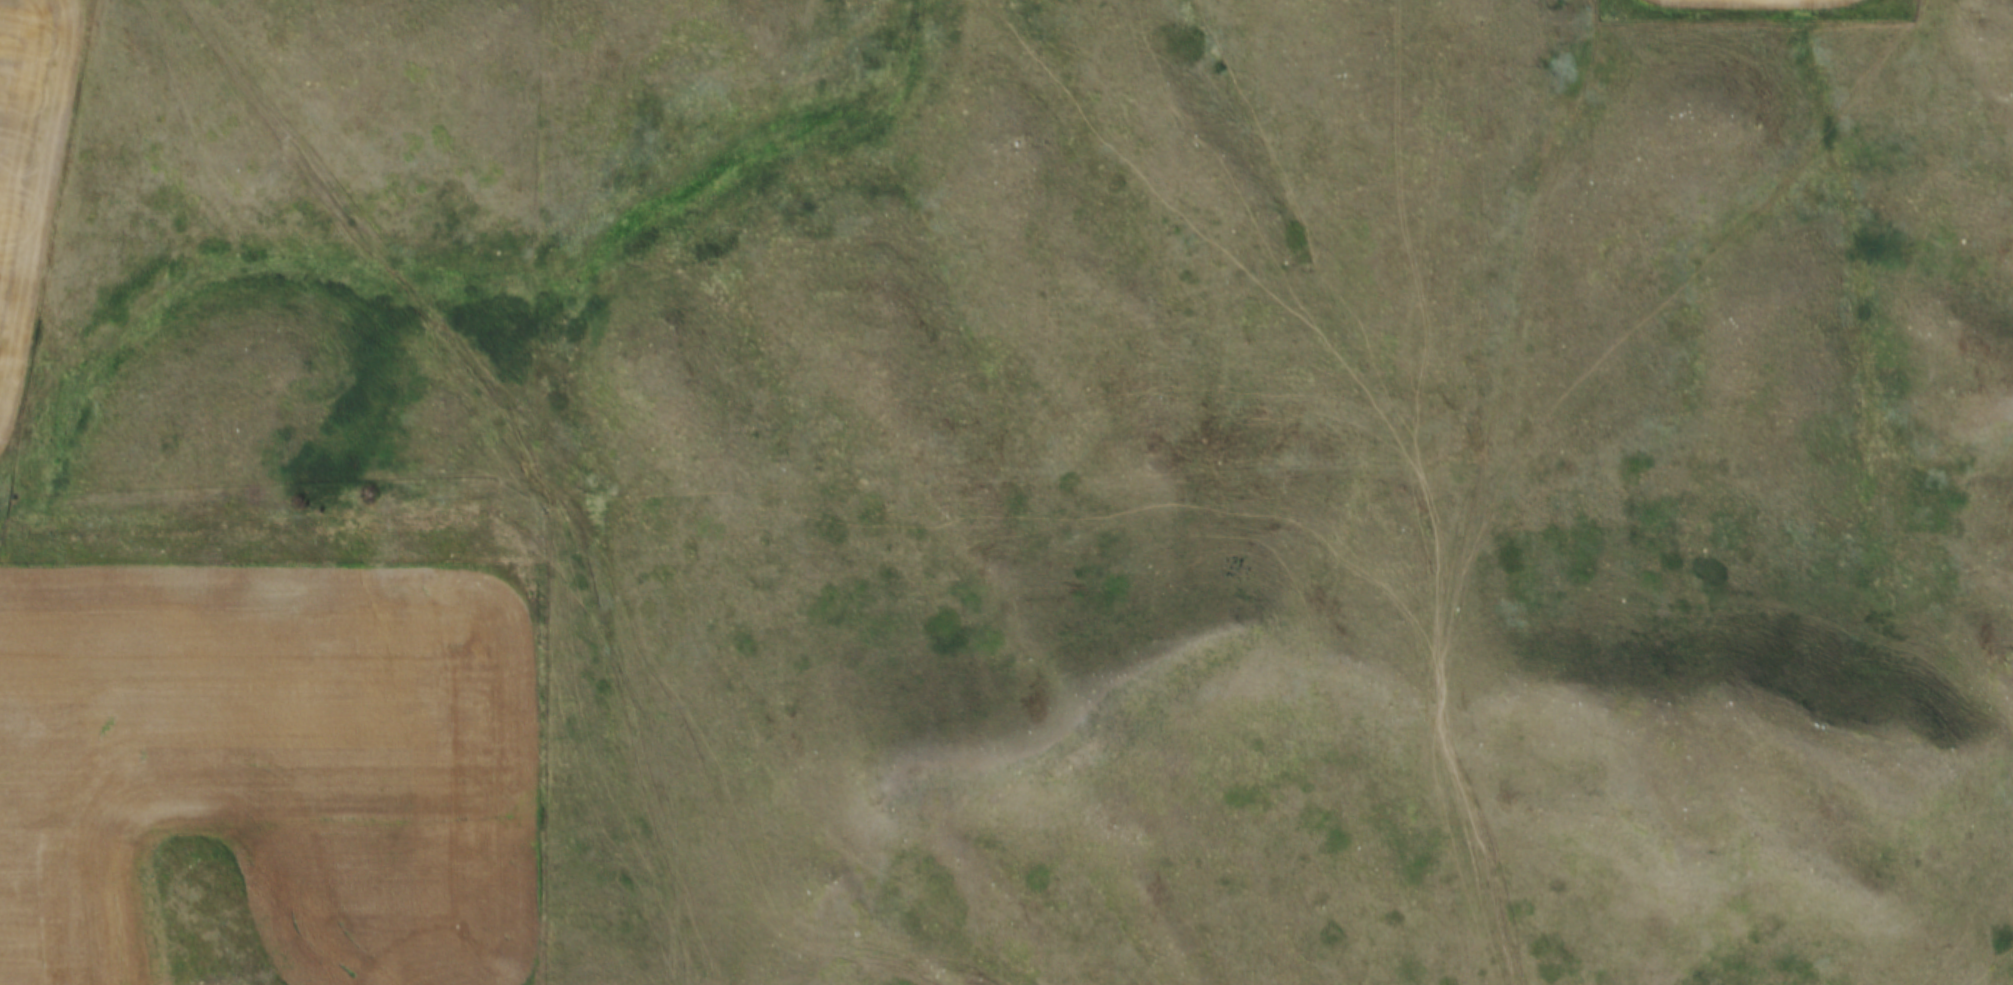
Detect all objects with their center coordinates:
road: (1528, 424)
road: (525, 455)

